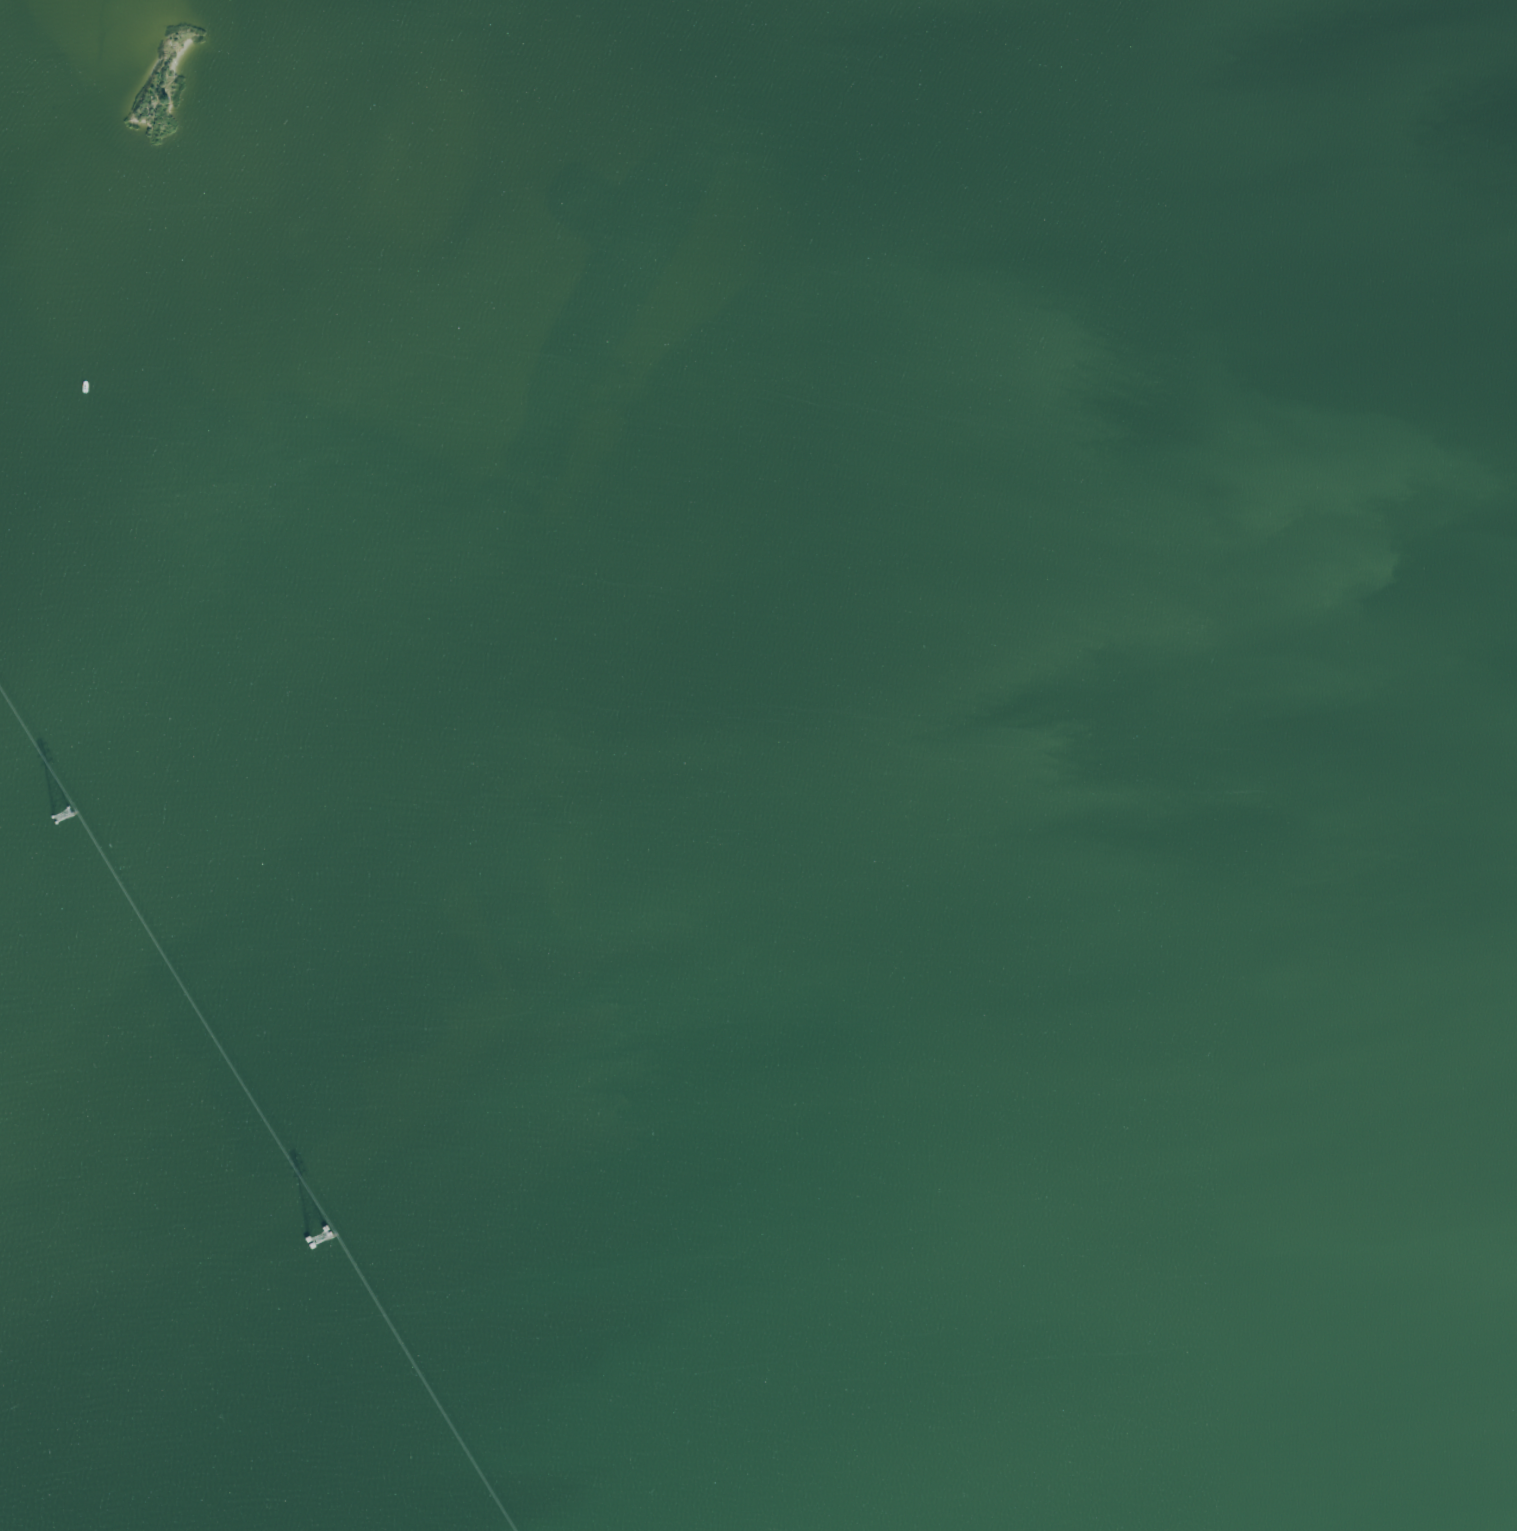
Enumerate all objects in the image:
power tower: (60, 808)
power tower: (299, 1204)

